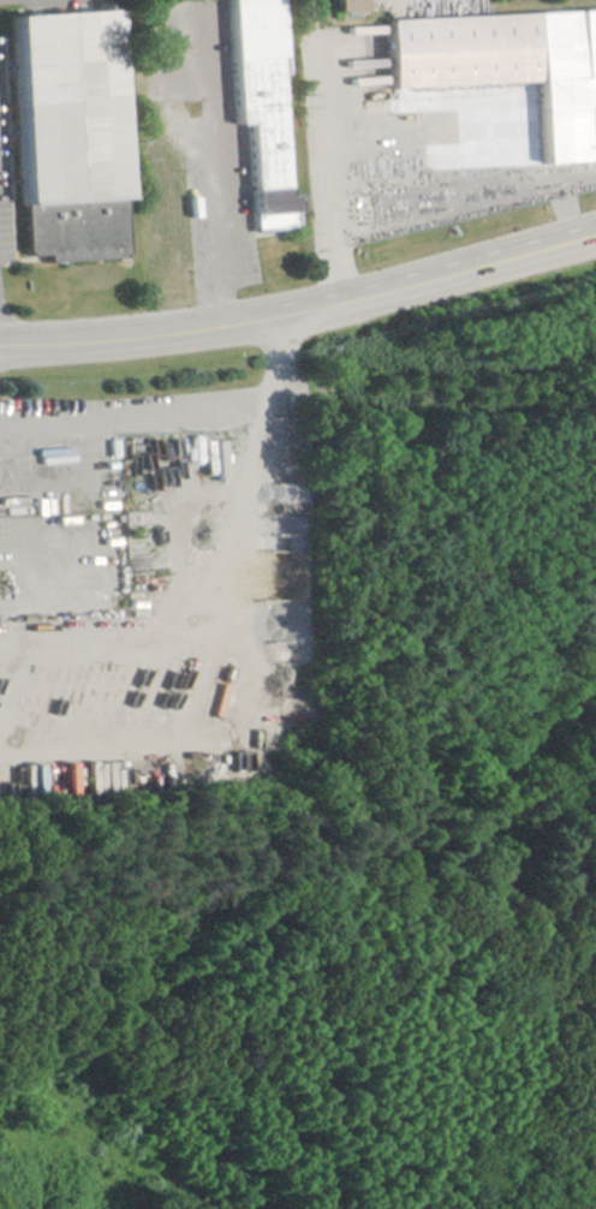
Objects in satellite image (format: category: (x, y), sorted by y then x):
building: (346, 5)
building: (497, 82)
building: (258, 106)
building: (591, 132)
building: (67, 133)
road: (314, 166)
road: (210, 168)
road: (437, 270)
road: (139, 329)
road: (133, 407)
road: (237, 585)
park: (351, 840)

